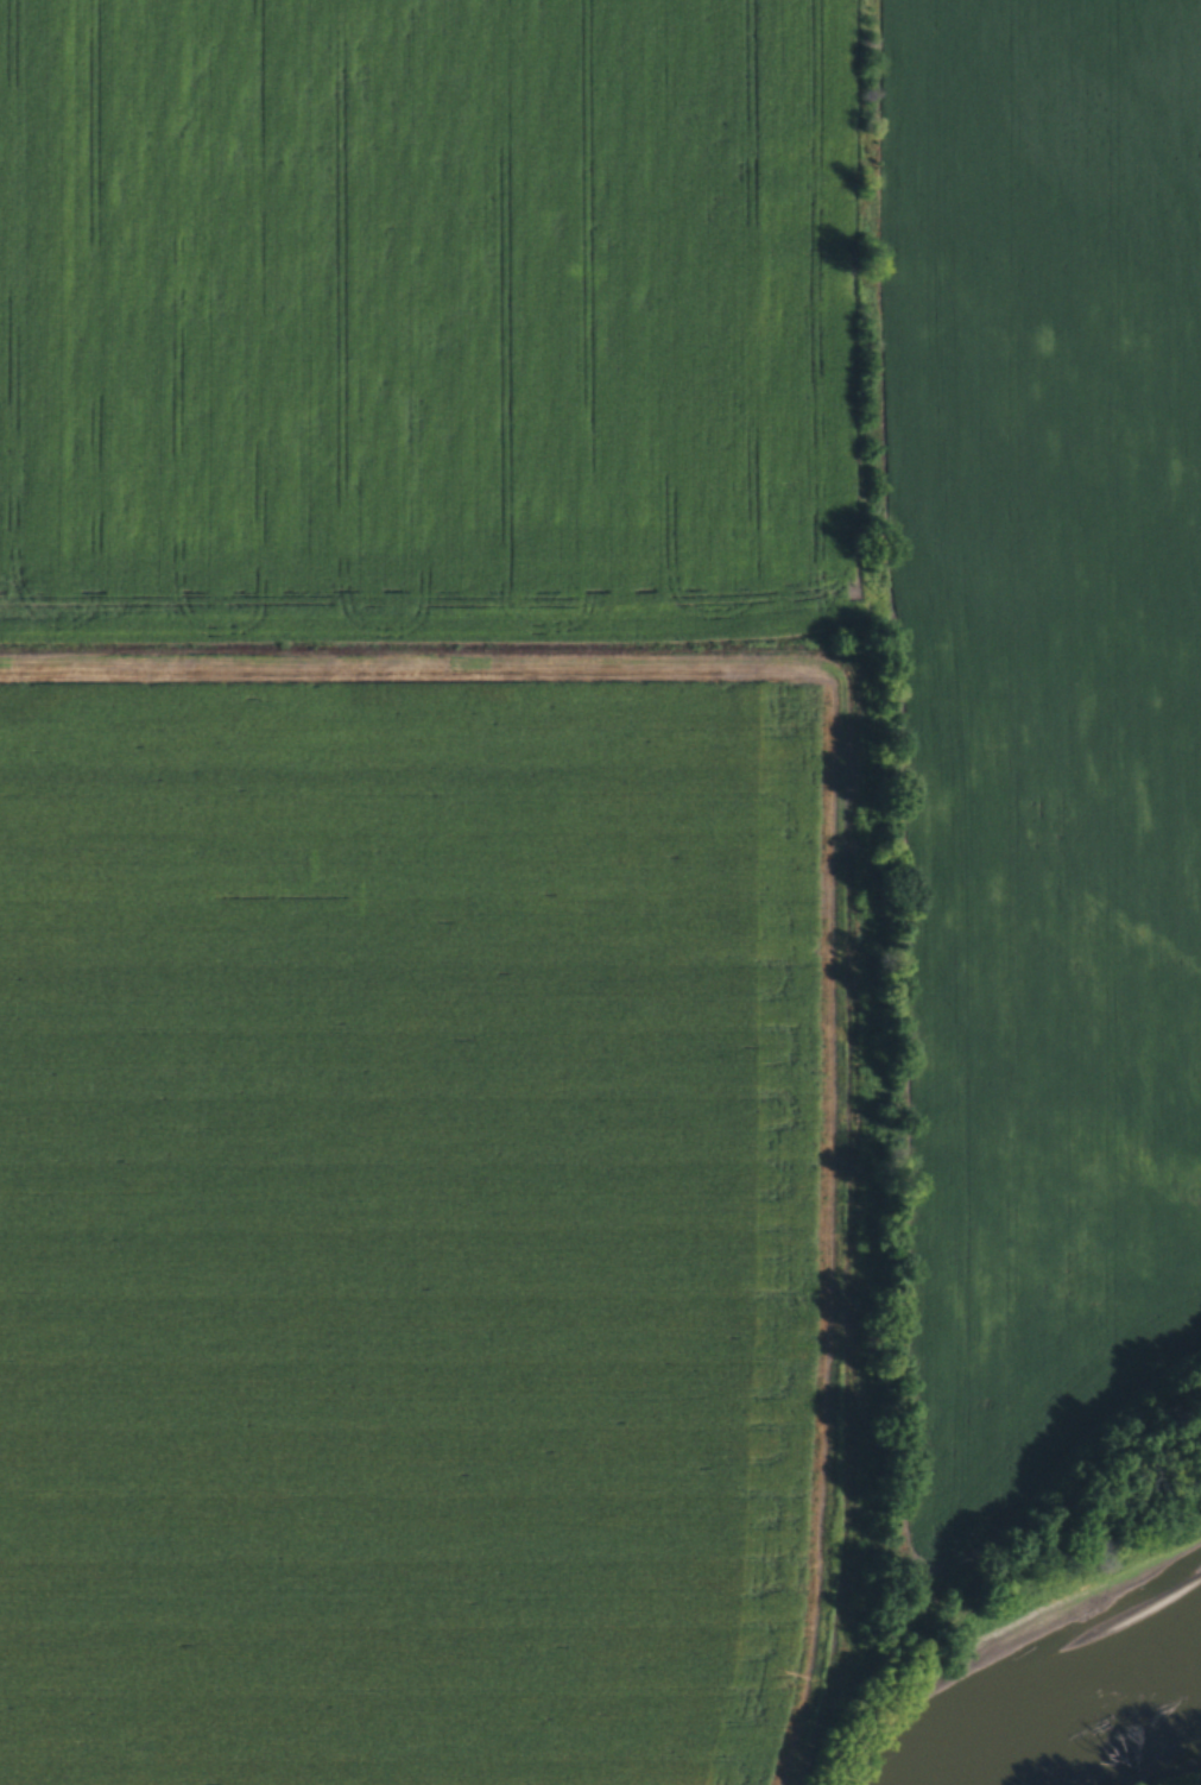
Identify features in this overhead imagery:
river: (1054, 1680)

